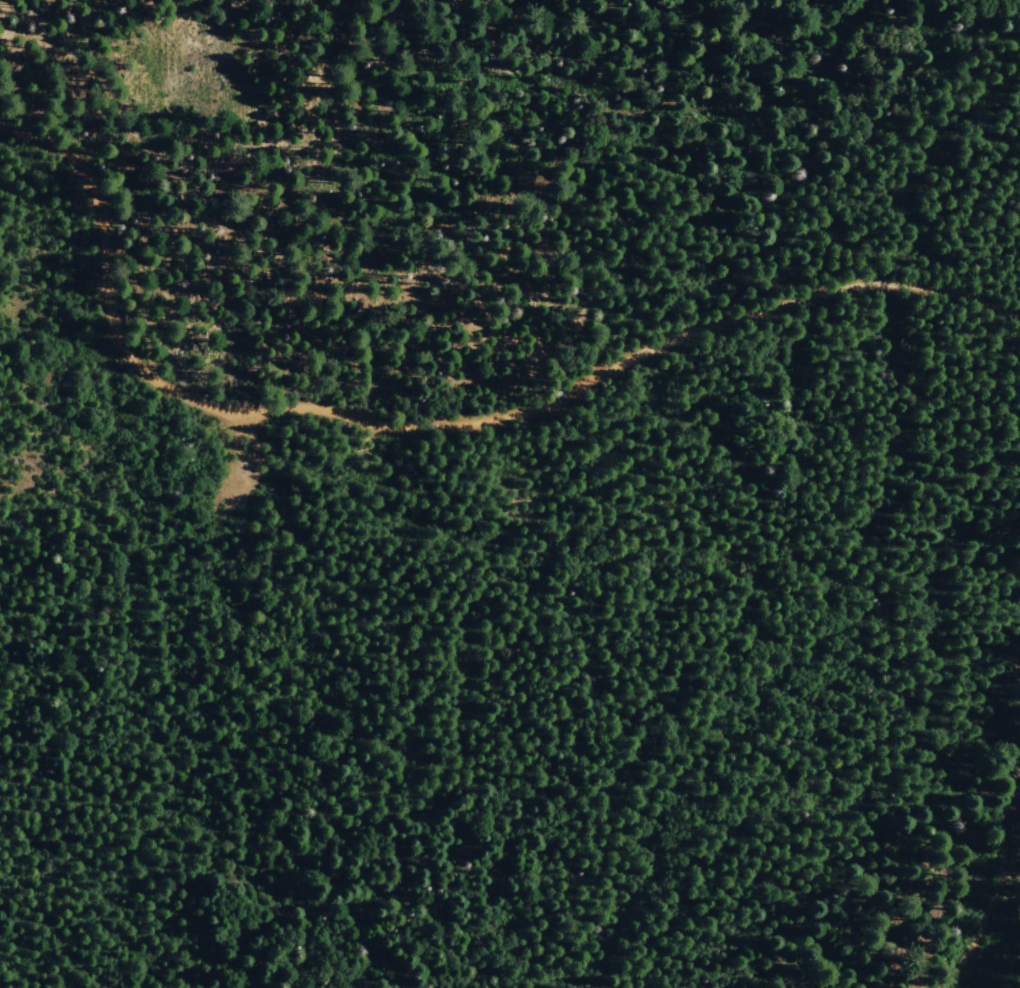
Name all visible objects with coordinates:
road: (435, 427)
road: (962, 839)

